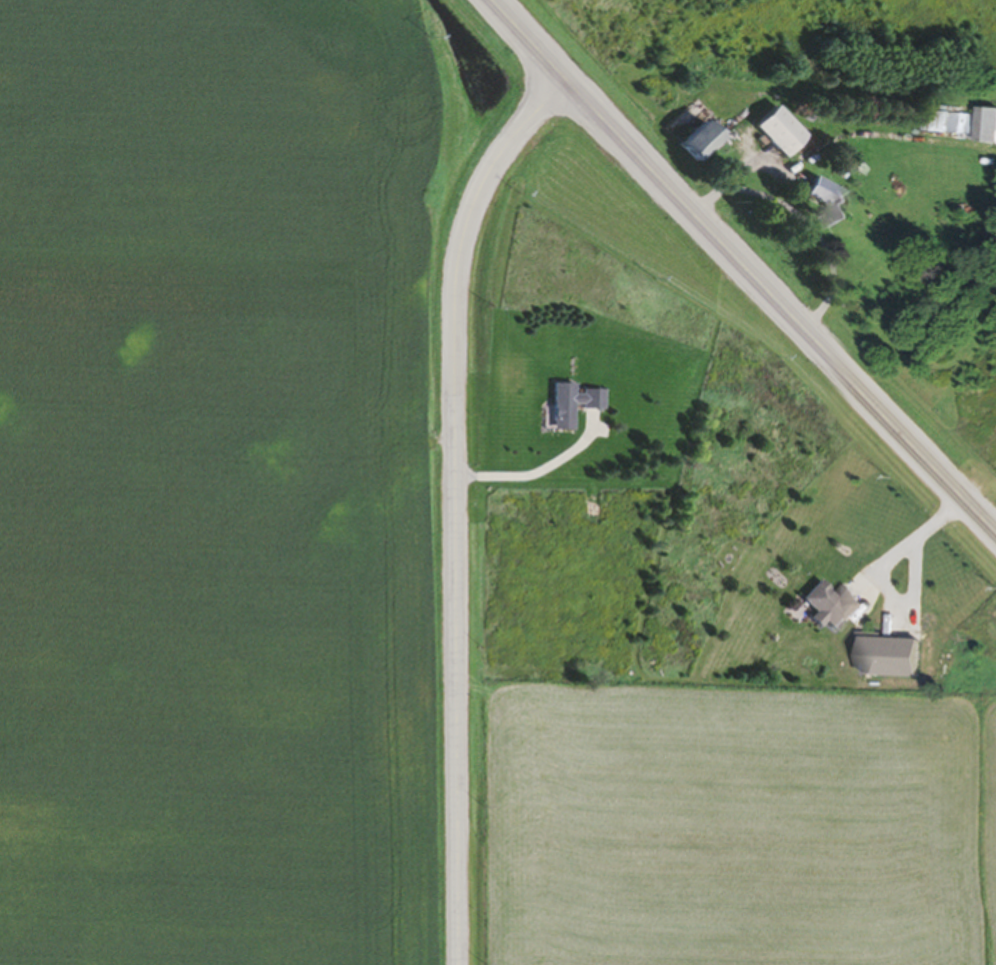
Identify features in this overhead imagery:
road: (542, 35)
building: (964, 126)
building: (777, 134)
building: (697, 143)
building: (826, 202)
road: (800, 222)
road: (784, 296)
building: (569, 406)
road: (453, 499)
road: (924, 534)
building: (831, 609)

